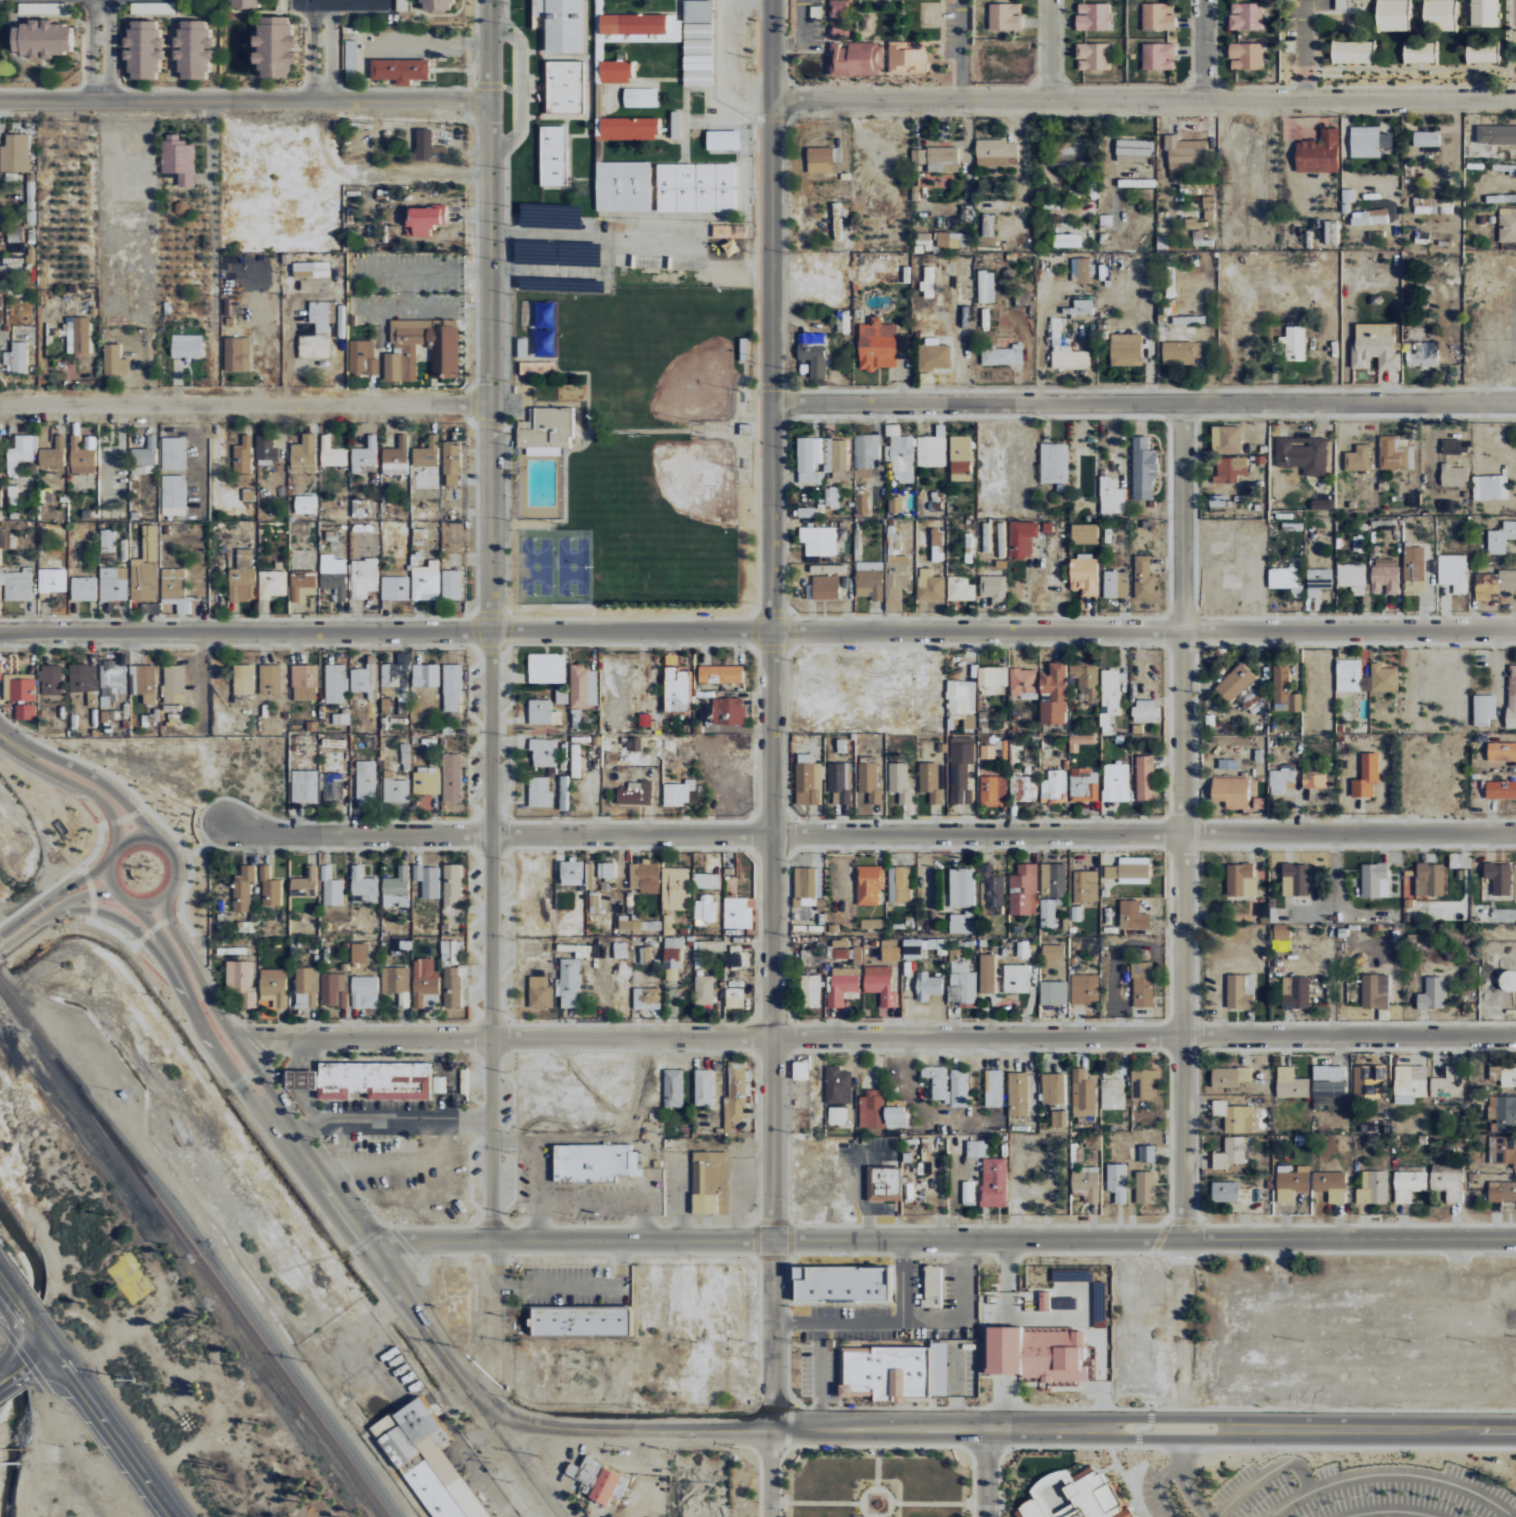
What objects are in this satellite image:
building: (243, 3)
building: (1340, 4)
building: (281, 5)
building: (436, 5)
road: (352, 7)
building: (42, 8)
building: (698, 11)
building: (1483, 12)
building: (1393, 15)
building: (1439, 15)
building: (1092, 16)
building: (1158, 16)
building: (1245, 16)
building: (838, 17)
building: (1004, 17)
building: (866, 23)
building: (561, 24)
building: (638, 24)
building: (39, 39)
building: (272, 47)
road: (812, 47)
road: (96, 48)
road: (115, 48)
road: (971, 48)
road: (1043, 48)
road: (1198, 48)
building: (142, 49)
building: (192, 49)
road: (1302, 49)
road: (319, 51)
building: (1353, 51)
road: (338, 52)
building: (1420, 52)
building: (1482, 52)
building: (697, 54)
building: (1092, 56)
building: (1158, 56)
building: (1245, 56)
building: (906, 57)
building: (351, 59)
building: (855, 59)
building: (399, 70)
building: (615, 72)
building: (565, 86)
road: (243, 96)
road: (1141, 96)
building: (640, 98)
building: (675, 124)
building: (628, 128)
building: (1496, 134)
building: (1426, 138)
building: (722, 140)
building: (1368, 141)
building: (425, 146)
building: (1133, 150)
building: (1184, 151)
building: (996, 152)
building: (1069, 152)
building: (13, 153)
building: (1318, 153)
building: (553, 155)
building: (177, 159)
building: (822, 159)
building: (942, 159)
building: (1135, 183)
building: (623, 187)
building: (695, 187)
building: (30, 199)
building: (1432, 205)
building: (1207, 208)
building: (1368, 217)
building: (838, 219)
building: (424, 220)
building: (1195, 223)
building: (1507, 224)
building: (987, 225)
building: (730, 231)
building: (1330, 232)
building: (14, 239)
building: (957, 239)
building: (1199, 239)
building: (1065, 240)
building: (730, 247)
road: (363, 268)
building: (310, 269)
building: (1080, 269)
building: (926, 283)
building: (985, 286)
building: (1080, 307)
building: (1189, 320)
building: (317, 330)
building: (1294, 343)
building: (880, 345)
building: (186, 346)
building: (1374, 346)
building: (444, 348)
building: (1126, 349)
building: (812, 352)
building: (1180, 352)
building: (236, 354)
building: (1421, 354)
building: (1002, 355)
building: (1067, 355)
building: (934, 357)
building: (17, 358)
building: (363, 358)
building: (114, 360)
building: (539, 368)
road: (1142, 399)
road: (241, 402)
park: (624, 416)
building: (545, 428)
building: (745, 429)
building: (1225, 439)
building: (1454, 446)
building: (265, 448)
building: (932, 449)
building: (22, 451)
building: (174, 453)
building: (332, 453)
building: (427, 453)
building: (867, 453)
building: (901, 453)
building: (1395, 453)
building: (53, 454)
building: (365, 454)
building: (1302, 454)
building: (304, 455)
building: (145, 456)
building: (243, 456)
building: (81, 457)
building: (396, 457)
building: (960, 458)
building: (1357, 458)
building: (839, 459)
building: (809, 460)
building: (451, 463)
building: (1053, 463)
building: (1230, 468)
building: (1142, 470)
building: (1454, 475)
building: (1490, 487)
building: (173, 495)
building: (248, 495)
building: (1111, 496)
building: (830, 497)
building: (1216, 500)
building: (861, 503)
building: (305, 504)
building: (895, 504)
building: (1323, 504)
building: (358, 508)
building: (805, 512)
building: (360, 530)
building: (313, 533)
building: (1084, 533)
building: (1501, 538)
building: (107, 539)
building: (893, 539)
building: (1021, 539)
building: (819, 540)
building: (146, 568)
building: (1414, 568)
building: (1453, 572)
building: (302, 574)
building: (1084, 574)
building: (242, 577)
building: (333, 577)
building: (363, 577)
building: (1351, 577)
building: (1143, 578)
building: (1384, 579)
building: (870, 580)
building: (1285, 580)
building: (1318, 581)
building: (51, 582)
building: (426, 582)
building: (16, 583)
building: (114, 583)
building: (173, 583)
building: (896, 583)
building: (1115, 584)
building: (1494, 584)
building: (451, 585)
building: (930, 585)
building: (270, 587)
building: (825, 587)
building: (994, 587)
building: (84, 588)
building: (395, 588)
building: (961, 588)
road: (485, 619)
road: (758, 629)
building: (403, 658)
building: (547, 668)
building: (0, 671)
building: (720, 674)
building: (426, 675)
building: (1351, 676)
building: (396, 677)
building: (993, 678)
building: (1383, 678)
building: (243, 679)
building: (270, 679)
building: (1087, 679)
building: (52, 680)
building: (1023, 681)
building: (144, 682)
building: (304, 682)
building: (1235, 682)
building: (336, 683)
building: (173, 684)
building: (583, 686)
building: (452, 688)
building: (23, 690)
building: (677, 690)
building: (1284, 691)
building: (1054, 694)
building: (961, 696)
building: (1110, 696)
building: (1512, 697)
building: (1483, 709)
building: (705, 710)
building: (1145, 710)
building: (729, 711)
building: (25, 712)
building: (542, 713)
road: (767, 714)
building: (341, 718)
building: (311, 726)
building: (1079, 741)
building: (634, 745)
building: (1501, 751)
road: (42, 752)
building: (544, 752)
building: (987, 752)
building: (1228, 764)
building: (961, 769)
building: (1366, 776)
building: (453, 778)
building: (1145, 778)
building: (869, 779)
building: (427, 780)
building: (808, 780)
building: (1281, 780)
building: (1313, 780)
building: (367, 782)
building: (840, 782)
building: (899, 782)
building: (930, 782)
building: (1116, 783)
building: (1054, 785)
building: (1083, 785)
road: (77, 786)
building: (304, 786)
building: (333, 787)
building: (1024, 788)
building: (396, 789)
building: (1501, 790)
building: (993, 791)
building: (1231, 791)
building: (539, 792)
building: (678, 793)
building: (633, 794)
building: (1258, 802)
road: (129, 804)
road: (870, 831)
road: (1179, 831)
road: (138, 842)
road: (214, 850)
road: (190, 854)
road: (117, 860)
building: (606, 870)
building: (1129, 870)
building: (571, 873)
road: (104, 874)
building: (590, 876)
building: (644, 876)
building: (1498, 876)
building: (1240, 878)
building: (1373, 878)
building: (1430, 878)
building: (1052, 879)
building: (1296, 879)
building: (428, 880)
building: (707, 881)
road: (115, 884)
building: (305, 884)
building: (868, 884)
building: (899, 884)
building: (1084, 885)
building: (364, 886)
building: (453, 886)
building: (807, 886)
building: (331, 887)
building: (961, 887)
road: (180, 888)
building: (243, 888)
building: (270, 888)
building: (396, 888)
building: (674, 888)
building: (993, 890)
building: (1023, 890)
road: (84, 902)
building: (594, 902)
road: (128, 903)
road: (99, 905)
road: (50, 909)
building: (705, 909)
building: (1048, 911)
building: (737, 913)
building: (1132, 915)
building: (872, 923)
building: (961, 923)
building: (637, 924)
building: (667, 924)
road: (30, 932)
building: (1281, 937)
road: (181, 939)
road: (5, 945)
road: (151, 947)
building: (1021, 948)
building: (620, 950)
building: (845, 950)
building: (889, 950)
building: (1053, 951)
building: (359, 952)
building: (672, 952)
building: (644, 954)
building: (737, 957)
railway: (4, 963)
building: (452, 973)
building: (986, 973)
building: (1015, 978)
building: (1507, 979)
building: (963, 981)
building: (241, 982)
building: (569, 982)
building: (425, 984)
building: (880, 984)
building: (1141, 984)
building: (842, 985)
building: (927, 985)
building: (274, 986)
building: (307, 987)
building: (1084, 988)
building: (335, 989)
building: (704, 990)
building: (810, 990)
building: (365, 991)
building: (1240, 991)
building: (1374, 991)
building: (540, 992)
building: (1053, 992)
building: (1295, 992)
building: (1431, 993)
building: (734, 997)
building: (646, 998)
road: (220, 1010)
road: (204, 1027)
road: (877, 1035)
building: (799, 1070)
building: (1229, 1076)
building: (1508, 1076)
building: (299, 1079)
building: (373, 1079)
building: (1367, 1080)
building: (935, 1081)
building: (1448, 1082)
building: (1144, 1083)
building: (1290, 1083)
building: (437, 1084)
building: (1411, 1084)
building: (837, 1085)
building: (1330, 1085)
building: (704, 1087)
building: (959, 1087)
road: (266, 1088)
building: (673, 1088)
building: (994, 1088)
building: (1053, 1088)
building: (1112, 1090)
building: (737, 1091)
building: (1017, 1093)
building: (1083, 1096)
building: (879, 1110)
building: (1502, 1113)
building: (836, 1115)
building: (1234, 1116)
building: (1058, 1118)
road: (389, 1126)
road: (750, 1141)
road: (781, 1141)
building: (977, 1148)
building: (1504, 1150)
building: (1233, 1152)
building: (1146, 1153)
building: (1077, 1154)
building: (594, 1162)
building: (1117, 1181)
building: (709, 1182)
building: (993, 1182)
building: (885, 1183)
building: (1086, 1183)
building: (1330, 1184)
building: (1408, 1184)
building: (1454, 1184)
building: (1290, 1185)
building: (1145, 1187)
building: (1372, 1187)
building: (908, 1189)
building: (1224, 1191)
building: (1502, 1191)
building: (967, 1192)
road: (1196, 1215)
road: (1168, 1216)
road: (1182, 1221)
road: (765, 1222)
road: (1203, 1222)
road: (719, 1223)
road: (974, 1225)
road: (1160, 1235)
road: (748, 1237)
road: (783, 1238)
road: (938, 1239)
railway: (191, 1249)
road: (969, 1252)
road: (713, 1253)
road: (767, 1253)
road: (930, 1259)
road: (836, 1260)
road: (868, 1260)
road: (897, 1260)
building: (928, 1265)
road: (1008, 1265)
flagpole: (924, 1270)
building: (1077, 1276)
road: (750, 1278)
road: (965, 1279)
parking lot: (915, 1280)
building: (932, 1287)
parking lot: (949, 1287)
road: (396, 1289)
railway: (237, 1290)
road: (904, 1292)
parking lot: (861, 1293)
building: (1044, 1301)
building: (922, 1304)
road: (22, 1305)
building: (1068, 1306)
building: (1103, 1307)
road: (1008, 1310)
building: (868, 1313)
building: (844, 1314)
road: (483, 1316)
building: (580, 1320)
road: (794, 1332)
road: (1183, 1335)
building: (1037, 1353)
road: (22, 1357)
parking lot: (940, 1367)
parking lot: (970, 1367)
building: (937, 1369)
road: (956, 1369)
parking lot: (806, 1370)
building: (873, 1372)
building: (915, 1372)
parking lot: (831, 1377)
road: (819, 1380)
building: (1047, 1381)
road: (1027, 1383)
road: (1047, 1383)
road: (1068, 1389)
road: (1096, 1389)
parking lot: (1087, 1390)
road: (918, 1398)
road: (896, 1399)
building: (896, 1400)
road: (1007, 1400)
road: (896, 1406)
road: (1078, 1408)
road: (1102, 1408)
road: (956, 1412)
road: (1149, 1416)
road: (1307, 1418)
building: (383, 1425)
road: (114, 1426)
road: (1142, 1427)
road: (936, 1428)
road: (641, 1429)
road: (1137, 1439)
road: (1307, 1439)
road: (744, 1446)
road: (875, 1446)
road: (1257, 1447)
road: (769, 1451)
road: (984, 1451)
building: (429, 1461)
road: (1140, 1465)
road: (876, 1468)
road: (1098, 1470)
road: (705, 1472)
road: (769, 1472)
road: (985, 1472)
building: (1081, 1472)
road: (1263, 1474)
road: (1388, 1474)
road: (540, 1475)
building: (593, 1478)
park: (875, 1481)
road: (1183, 1481)
road: (759, 1483)
road: (779, 1483)
road: (1128, 1483)
road: (972, 1484)
road: (997, 1484)
road: (1156, 1485)
road: (876, 1489)
building: (1118, 1492)
parking lot: (1327, 1492)
building: (1072, 1496)
road: (820, 1503)
fountain: (876, 1503)
road: (932, 1504)
road: (984, 1504)
road: (1389, 1509)
road: (1131, 1510)
building: (1018, 1512)
road: (1011, 1514)
building: (1137, 1515)
road: (1512, 1516)

